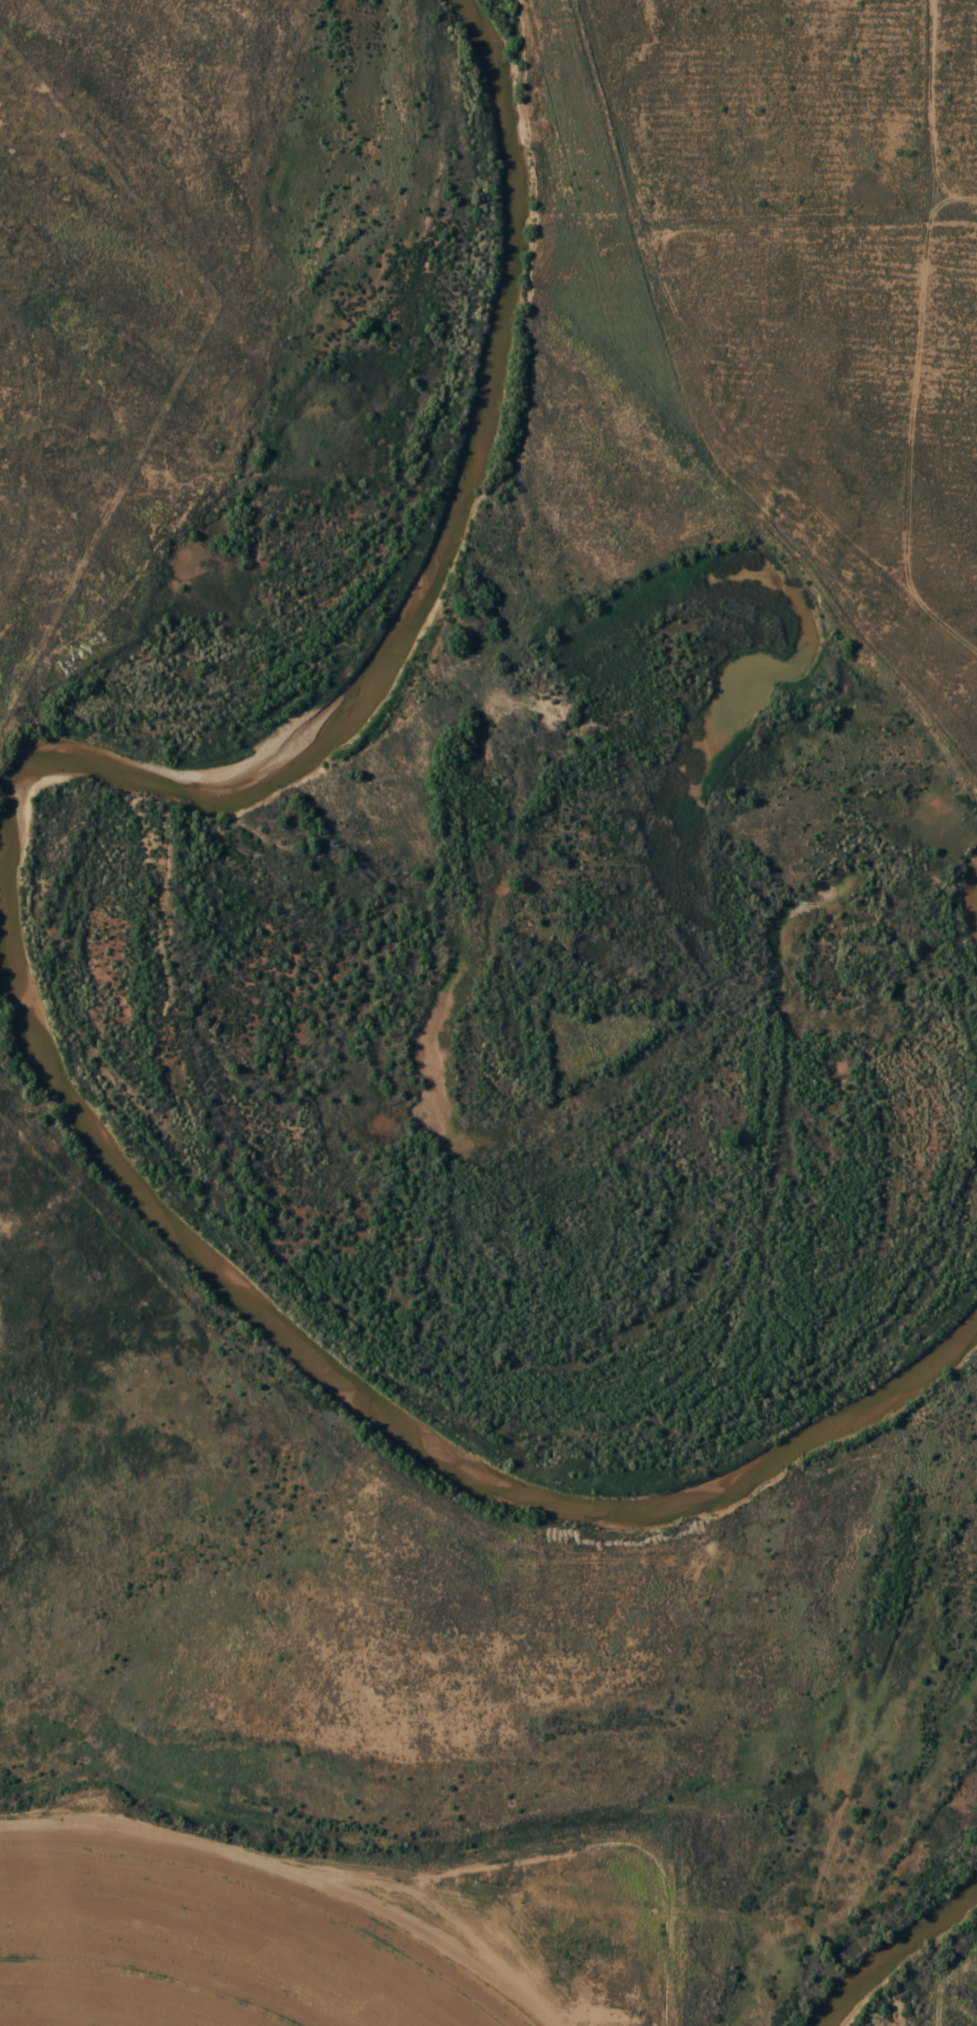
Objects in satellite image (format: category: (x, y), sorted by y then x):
river: (432, 547)
river: (388, 1426)
river: (893, 1951)

